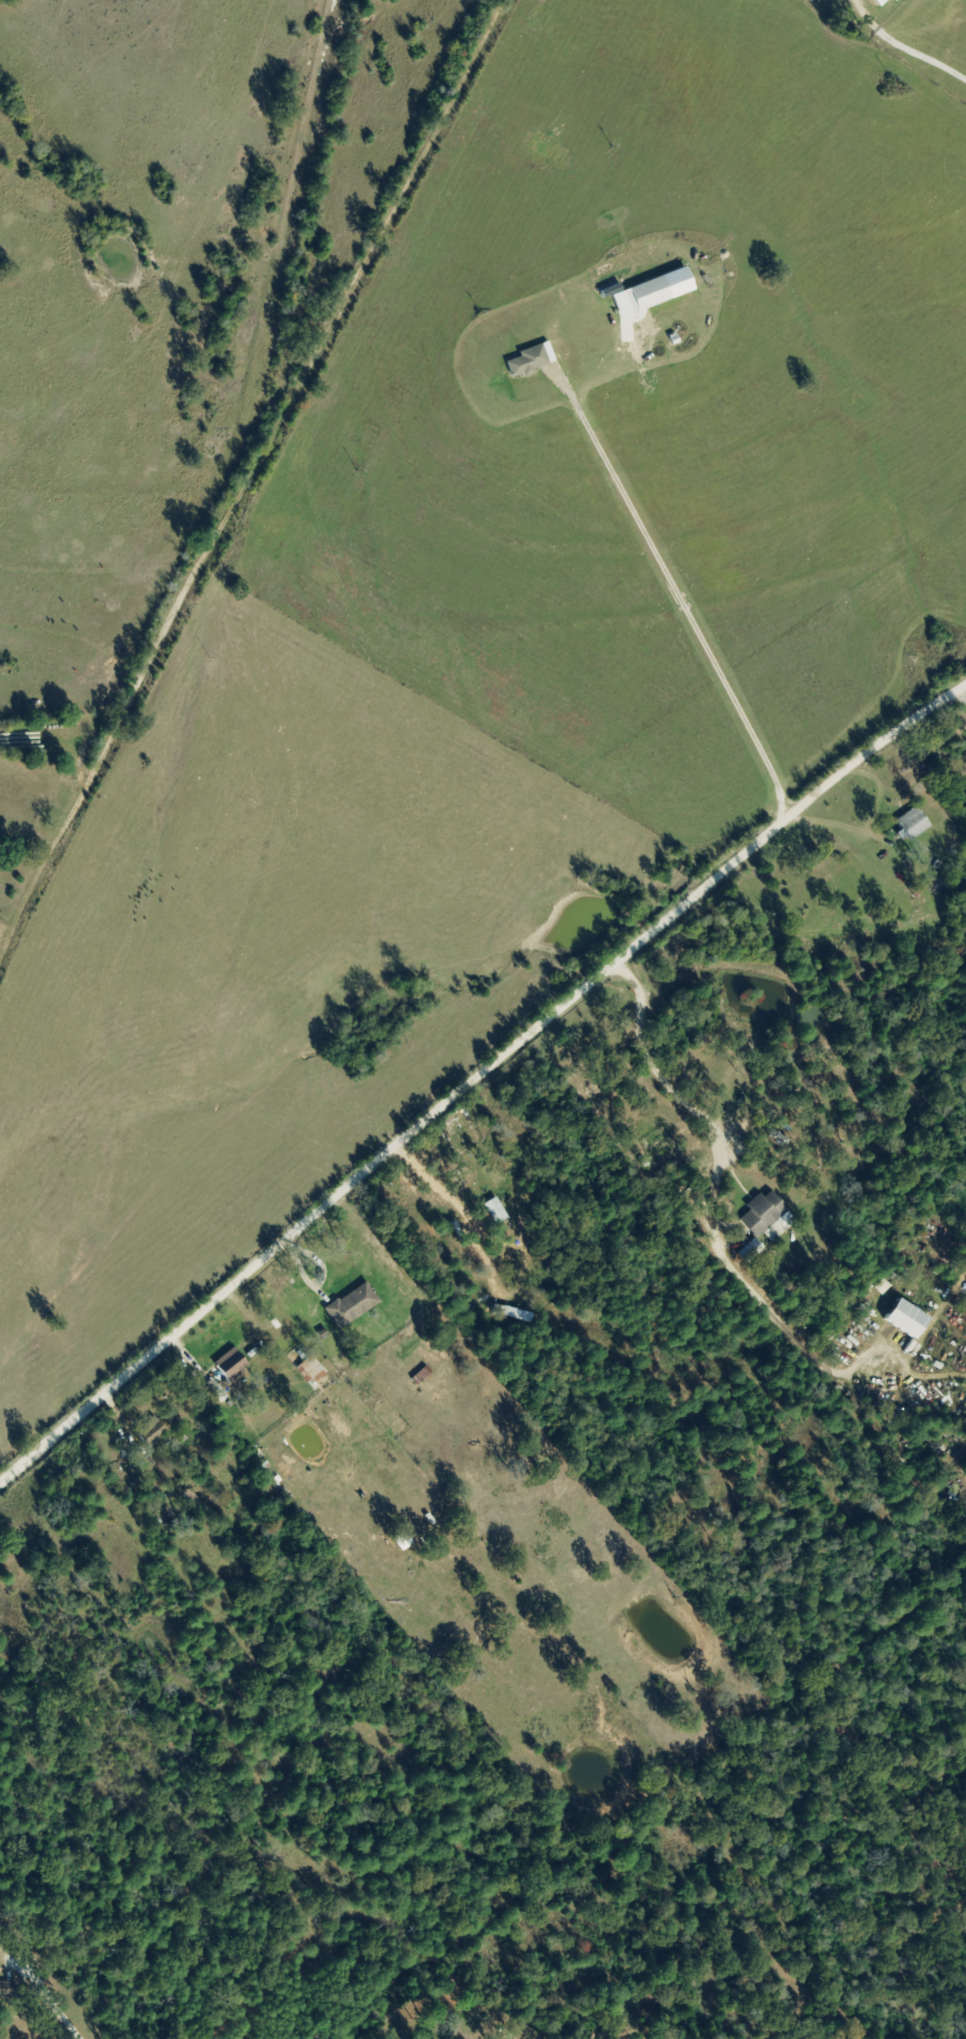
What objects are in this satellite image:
road: (907, 42)
building: (647, 294)
building: (527, 361)
road: (248, 482)
road: (675, 589)
road: (964, 689)
railway: (163, 818)
building: (911, 825)
road: (478, 1078)
road: (710, 1204)
building: (765, 1217)
building: (750, 1251)
building: (350, 1305)
building: (903, 1319)
building: (309, 1370)
building: (7, 1995)
building: (388, 2038)

